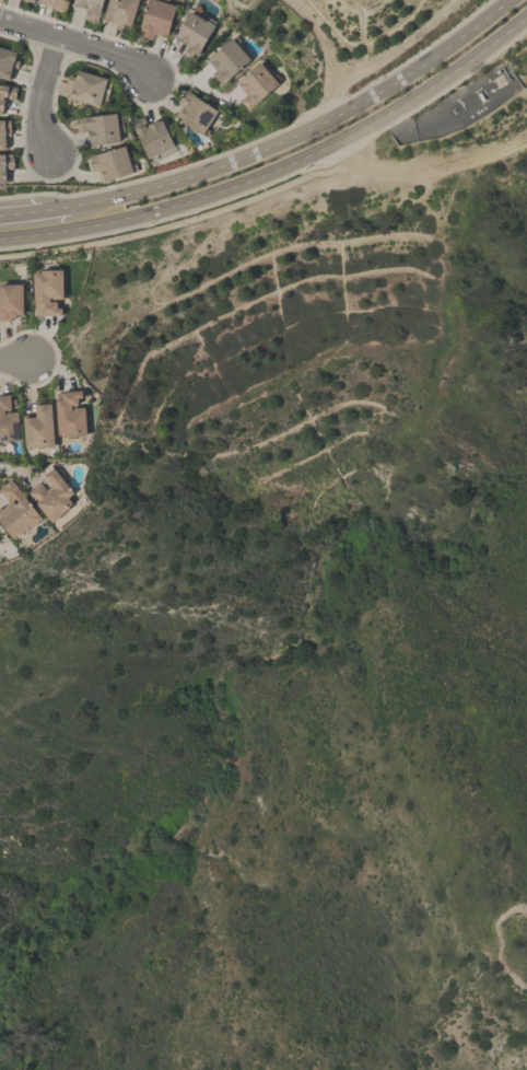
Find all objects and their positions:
building: (30, 0)
building: (56, 4)
building: (90, 8)
building: (118, 11)
building: (154, 18)
building: (192, 33)
road: (74, 45)
road: (399, 47)
road: (325, 53)
building: (225, 60)
building: (7, 62)
building: (254, 84)
building: (86, 86)
building: (7, 92)
road: (47, 93)
building: (195, 112)
building: (98, 127)
building: (3, 131)
road: (302, 132)
building: (152, 137)
road: (316, 150)
building: (109, 162)
building: (5, 165)
road: (428, 170)
road: (55, 209)
road: (21, 213)
road: (40, 235)
building: (46, 290)
building: (10, 300)
road: (16, 362)
building: (69, 414)
building: (8, 419)
building: (37, 426)
road: (15, 466)
building: (50, 495)
building: (15, 510)
road: (495, 944)

